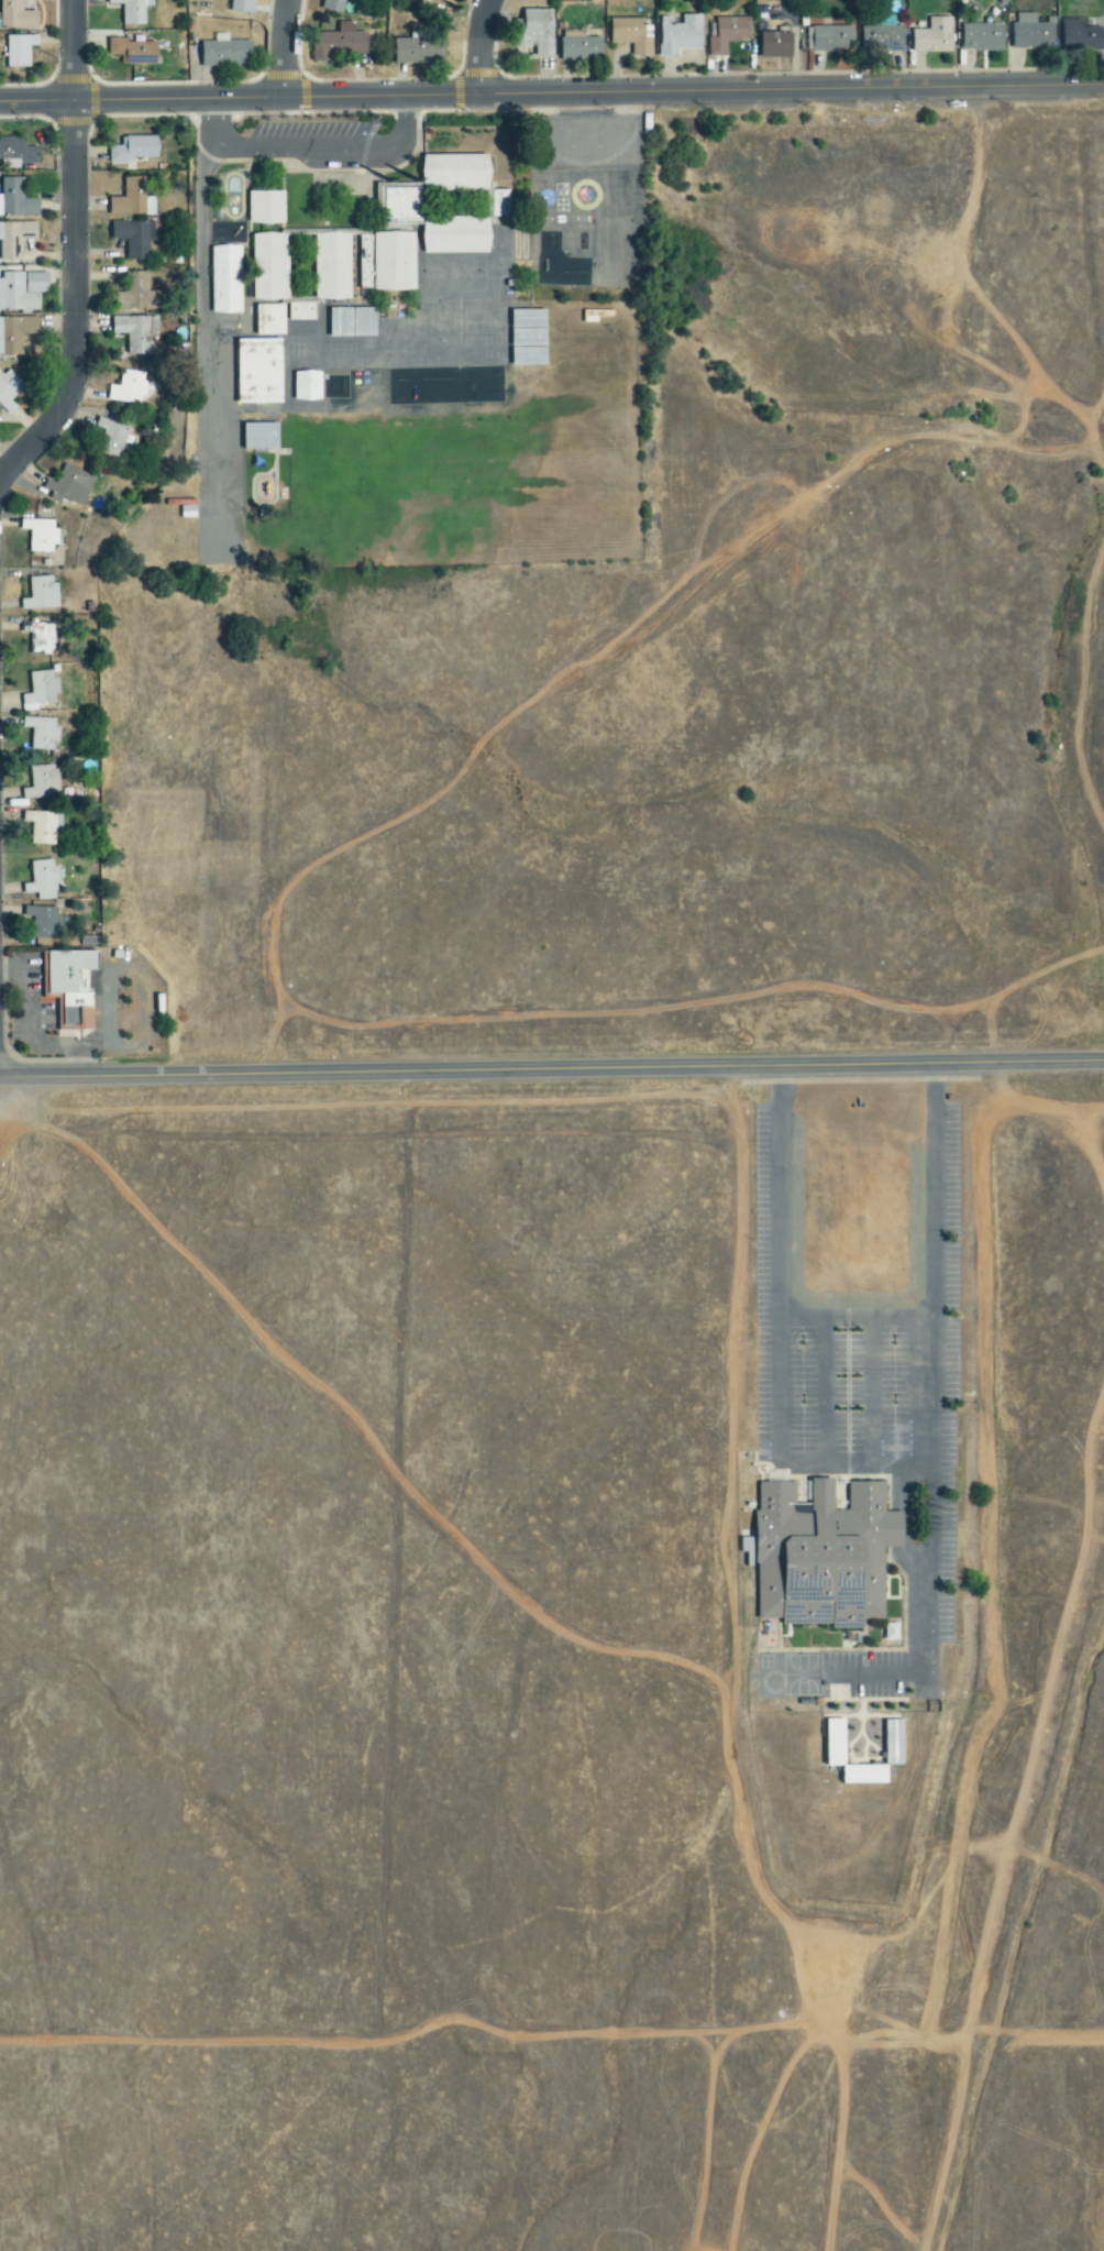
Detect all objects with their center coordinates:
building: (438, 2)
building: (241, 6)
building: (332, 6)
building: (132, 10)
building: (15, 15)
building: (1031, 32)
building: (534, 33)
building: (728, 34)
building: (680, 35)
building: (1083, 35)
building: (934, 36)
building: (881, 37)
building: (982, 37)
building: (830, 39)
building: (339, 43)
building: (775, 45)
road: (482, 46)
building: (579, 46)
road: (285, 47)
building: (18, 50)
building: (418, 50)
building: (133, 52)
building: (225, 52)
road: (551, 92)
road: (401, 113)
road: (212, 116)
road: (307, 146)
building: (134, 150)
building: (16, 152)
building: (454, 173)
building: (15, 199)
building: (132, 199)
building: (499, 202)
building: (401, 204)
building: (265, 208)
building: (455, 235)
building: (134, 238)
building: (14, 239)
road: (77, 256)
road: (201, 261)
building: (364, 262)
building: (393, 262)
building: (331, 266)
building: (269, 267)
building: (225, 279)
building: (21, 292)
building: (136, 294)
building: (268, 320)
building: (364, 323)
building: (15, 333)
building: (134, 333)
building: (528, 338)
building: (258, 371)
building: (307, 386)
building: (129, 388)
building: (8, 392)
building: (110, 437)
building: (260, 437)
building: (69, 486)
building: (179, 503)
building: (40, 536)
building: (40, 594)
building: (38, 634)
building: (41, 689)
building: (41, 734)
building: (42, 783)
building: (41, 827)
building: (42, 881)
building: (43, 923)
building: (69, 987)
road: (552, 1072)
building: (824, 1553)
building: (835, 1742)
building: (893, 1742)

